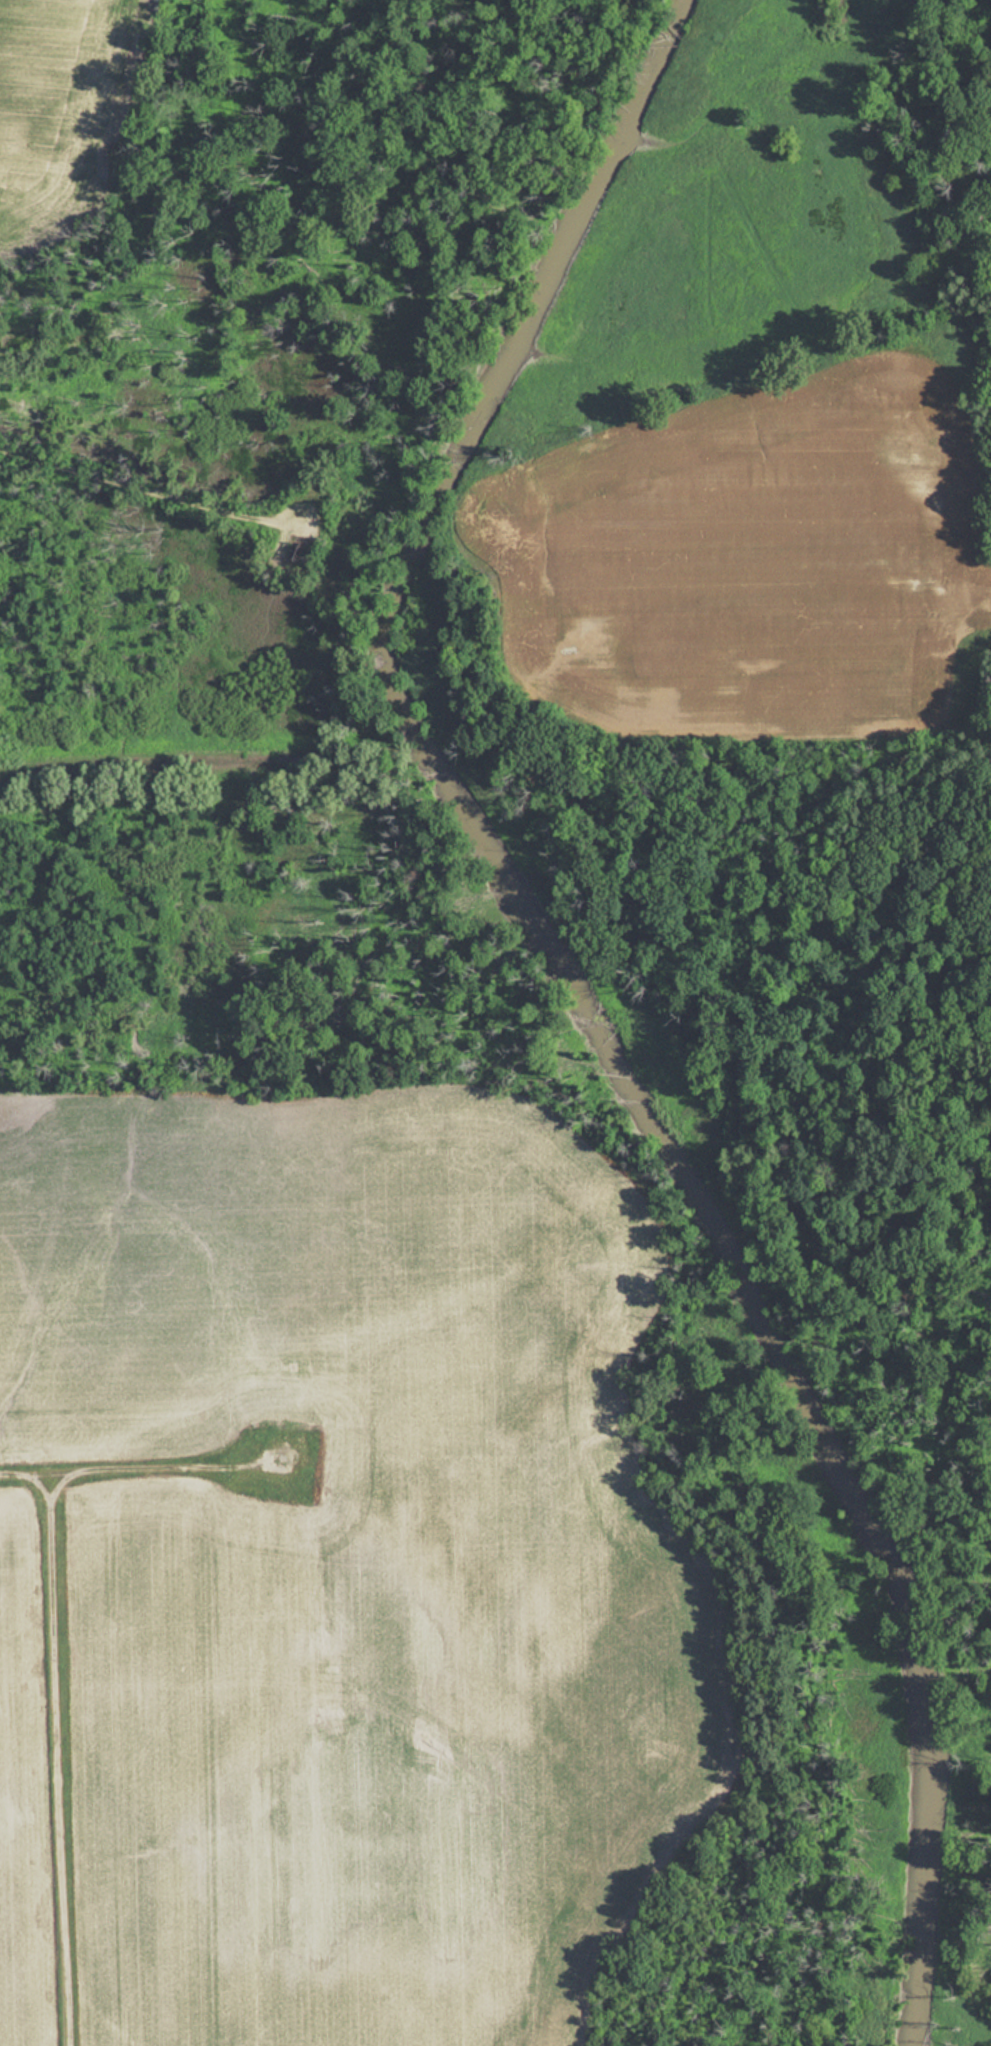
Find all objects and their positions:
road: (142, 486)
petroleum well: (295, 549)
river: (579, 1005)
road: (138, 1469)
road: (58, 1759)

